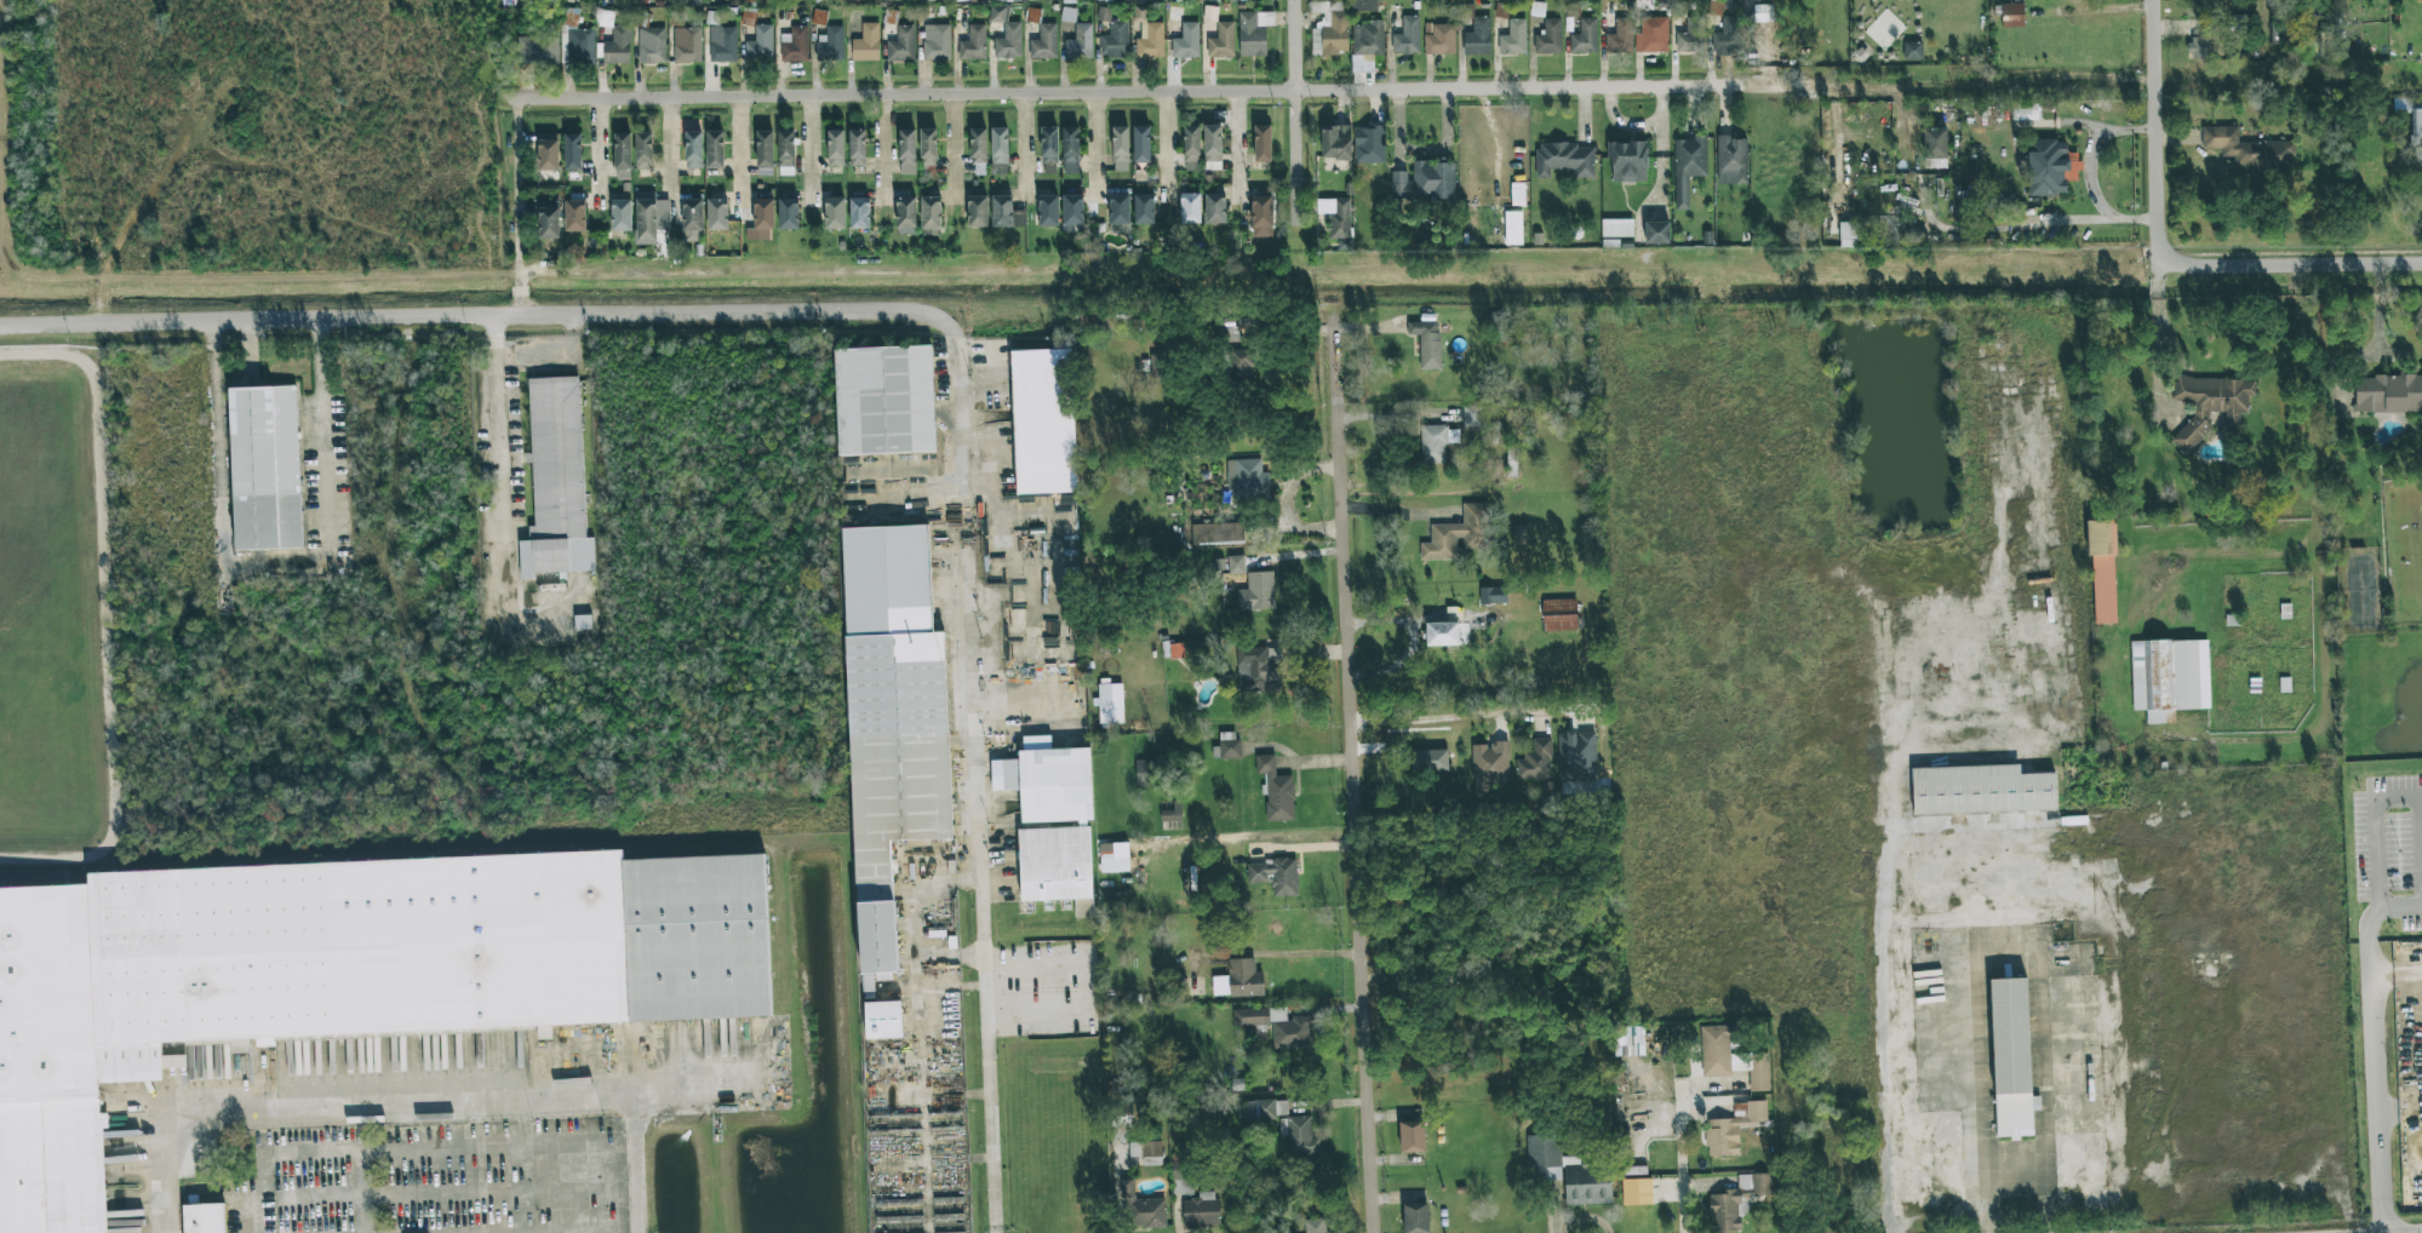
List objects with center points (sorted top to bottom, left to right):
building: (855, 0)
building: (923, 0)
building: (960, 0)
building: (998, 0)
building: (2418, 0)
building: (677, 1)
building: (1069, 1)
building: (694, 2)
building: (1365, 5)
building: (1501, 10)
building: (1175, 13)
building: (1210, 13)
building: (1032, 15)
building: (2012, 15)
building: (819, 17)
building: (712, 18)
building: (641, 19)
building: (1329, 28)
building: (1006, 33)
building: (1253, 33)
building: (1147, 35)
building: (1653, 35)
building: (1407, 36)
building: (1585, 36)
building: (1691, 36)
building: (1727, 36)
building: (1478, 38)
building: (1548, 38)
building: (1620, 38)
building: (1368, 39)
building: (1513, 39)
building: (1115, 40)
building: (1441, 40)
building: (1186, 41)
building: (1221, 41)
road: (2157, 41)
building: (937, 42)
building: (1044, 42)
building: (1080, 42)
building: (722, 44)
building: (760, 44)
building: (866, 44)
building: (901, 44)
building: (973, 44)
building: (577, 45)
building: (652, 45)
building: (687, 45)
building: (795, 45)
building: (830, 45)
building: (615, 46)
building: (2200, 47)
building: (537, 50)
building: (1912, 51)
road: (2386, 75)
road: (2254, 79)
road: (2124, 81)
road: (1991, 85)
road: (1202, 91)
road: (1298, 109)
building: (2026, 111)
building: (2415, 119)
road: (1095, 142)
road: (809, 143)
building: (1262, 143)
building: (1336, 143)
building: (1049, 144)
building: (1141, 144)
road: (1167, 144)
building: (1369, 144)
building: (928, 147)
road: (1236, 147)
building: (1936, 147)
road: (742, 148)
building: (765, 148)
building: (835, 148)
building: (857, 148)
road: (882, 148)
road: (1023, 148)
building: (1120, 148)
building: (1191, 148)
building: (1212, 148)
road: (670, 149)
building: (715, 149)
building: (978, 149)
building: (2249, 149)
building: (643, 150)
building: (693, 150)
building: (1070, 150)
road: (2095, 150)
building: (572, 151)
building: (785, 151)
building: (906, 151)
building: (998, 151)
building: (548, 155)
building: (623, 156)
road: (597, 157)
building: (2417, 159)
building: (1564, 160)
building: (1731, 160)
building: (1627, 161)
building: (1688, 166)
building: (2050, 167)
road: (2159, 173)
building: (1425, 182)
road: (514, 206)
building: (1120, 208)
building: (1144, 208)
building: (1190, 208)
building: (1214, 208)
building: (977, 211)
building: (1048, 211)
building: (1072, 212)
building: (788, 213)
building: (835, 213)
building: (859, 213)
building: (1006, 213)
building: (620, 214)
building: (717, 214)
building: (906, 214)
building: (576, 216)
building: (931, 216)
building: (1260, 217)
building: (1336, 217)
building: (763, 218)
building: (646, 220)
building: (692, 220)
road: (2046, 220)
building: (549, 223)
building: (1513, 228)
building: (1617, 228)
building: (1120, 229)
building: (1888, 230)
building: (1656, 233)
building: (1846, 235)
road: (2297, 264)
road: (474, 314)
building: (1427, 343)
building: (1242, 365)
building: (1157, 366)
building: (2388, 394)
building: (2209, 406)
building: (887, 409)
building: (1471, 415)
road: (1395, 417)
road: (505, 418)
building: (1043, 421)
building: (1495, 432)
building: (1436, 442)
building: (1511, 463)
building: (269, 474)
building: (1247, 480)
building: (559, 484)
road: (1284, 503)
road: (1397, 520)
building: (1214, 534)
building: (1458, 534)
building: (1518, 535)
road: (2325, 561)
building: (1236, 564)
building: (2102, 572)
road: (273, 573)
building: (1258, 592)
building: (1493, 596)
road: (2140, 602)
building: (1559, 615)
road: (1414, 619)
building: (583, 623)
building: (1442, 635)
building: (1175, 650)
road: (1396, 663)
building: (1258, 670)
building: (2169, 678)
building: (1111, 704)
road: (1449, 715)
building: (895, 746)
building: (1229, 746)
building: (1436, 747)
building: (1576, 756)
road: (1294, 762)
building: (1535, 762)
building: (1490, 765)
road: (974, 768)
building: (1147, 772)
road: (1353, 778)
building: (1049, 786)
building: (1276, 791)
building: (1985, 795)
building: (1172, 813)
road: (2374, 831)
road: (1304, 847)
building: (1113, 859)
building: (1057, 866)
building: (1275, 876)
road: (2399, 907)
road: (2393, 971)
building: (345, 980)
building: (1239, 980)
road: (1878, 1007)
building: (1250, 1017)
building: (1290, 1030)
road: (1983, 1039)
building: (1731, 1059)
building: (174, 1063)
building: (2016, 1068)
road: (2371, 1069)
road: (694, 1091)
building: (1264, 1109)
road: (412, 1112)
building: (1122, 1116)
building: (1733, 1129)
road: (1682, 1134)
building: (1301, 1137)
building: (1412, 1139)
building: (1151, 1153)
building: (1545, 1155)
building: (1183, 1165)
building: (120, 1170)
road: (365, 1174)
parking lot: (443, 1181)
building: (1588, 1183)
building: (1637, 1193)
building: (1737, 1200)
building: (1143, 1208)
building: (1201, 1210)
building: (204, 1216)
road: (1580, 1216)
building: (1415, 1218)
building: (1316, 1225)

